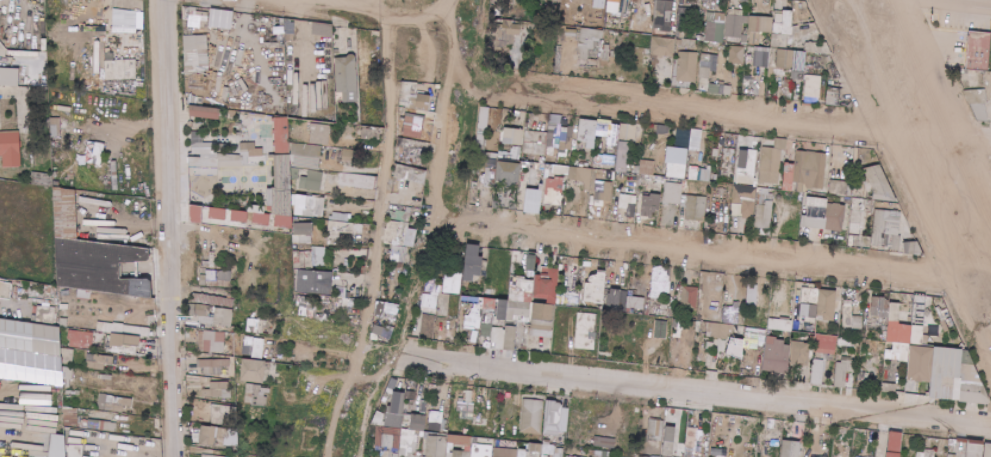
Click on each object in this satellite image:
parking lot: (960, 31)
road: (443, 108)
road: (384, 183)
road: (903, 196)
road: (170, 228)

